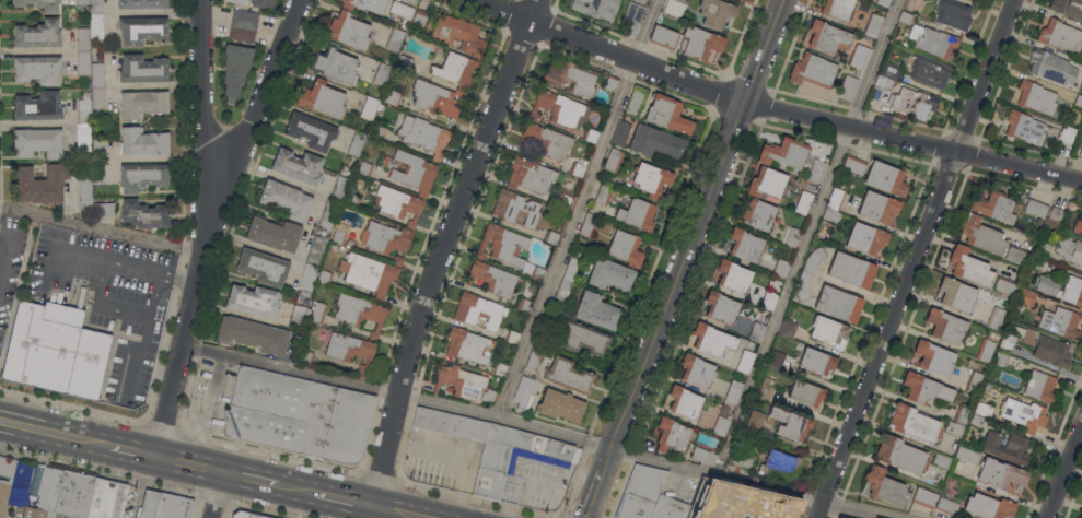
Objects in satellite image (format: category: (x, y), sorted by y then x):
building: (83, 1)
building: (237, 1)
building: (640, 1)
building: (883, 2)
building: (263, 3)
building: (39, 4)
building: (142, 4)
building: (367, 4)
building: (674, 7)
building: (96, 8)
building: (596, 8)
building: (1068, 8)
building: (402, 9)
building: (838, 9)
building: (715, 12)
building: (953, 14)
building: (419, 16)
building: (632, 17)
building: (906, 17)
building: (244, 20)
building: (96, 26)
building: (873, 26)
building: (142, 30)
building: (347, 31)
building: (38, 34)
building: (242, 34)
building: (458, 34)
building: (1060, 35)
building: (664, 36)
building: (828, 37)
building: (83, 39)
building: (394, 39)
building: (934, 40)
building: (700, 43)
building: (859, 56)
building: (404, 62)
building: (84, 63)
building: (334, 64)
building: (1051, 67)
building: (37, 69)
building: (143, 69)
building: (235, 70)
building: (456, 70)
building: (889, 70)
building: (812, 71)
building: (930, 72)
building: (97, 74)
building: (382, 74)
building: (572, 76)
building: (884, 82)
building: (612, 83)
building: (848, 86)
road: (201, 94)
building: (1036, 96)
building: (392, 97)
building: (97, 98)
building: (323, 98)
building: (437, 98)
building: (1079, 101)
building: (142, 103)
building: (635, 103)
building: (914, 103)
building: (38, 106)
building: (84, 108)
building: (369, 108)
building: (560, 109)
road: (772, 110)
building: (667, 115)
building: (1026, 127)
building: (380, 128)
building: (311, 131)
building: (1068, 132)
building: (620, 133)
building: (591, 134)
building: (428, 137)
building: (83, 139)
building: (143, 141)
building: (546, 141)
building: (1079, 141)
building: (38, 142)
building: (655, 142)
building: (357, 143)
building: (98, 150)
building: (784, 153)
building: (613, 161)
building: (854, 165)
building: (298, 166)
building: (364, 168)
building: (577, 169)
building: (412, 170)
building: (815, 170)
building: (98, 172)
building: (530, 175)
building: (142, 176)
building: (651, 178)
building: (886, 178)
building: (40, 184)
building: (768, 184)
building: (628, 186)
building: (338, 188)
building: (85, 191)
building: (603, 193)
building: (353, 199)
building: (565, 199)
building: (836, 199)
building: (286, 200)
building: (804, 202)
building: (398, 203)
building: (879, 207)
building: (993, 207)
building: (1036, 207)
building: (515, 208)
building: (103, 209)
road: (575, 209)
building: (756, 213)
building: (144, 214)
building: (329, 214)
building: (637, 214)
building: (831, 216)
building: (1054, 217)
road: (205, 221)
building: (1038, 222)
building: (587, 225)
building: (1078, 226)
road: (100, 228)
building: (274, 233)
building: (339, 234)
building: (981, 235)
building: (385, 237)
building: (551, 237)
building: (792, 237)
road: (805, 237)
building: (865, 238)
road: (3, 242)
building: (745, 244)
building: (626, 248)
building: (1043, 248)
building: (316, 249)
road: (443, 249)
building: (508, 249)
building: (1070, 249)
building: (1017, 255)
road: (914, 258)
road: (686, 259)
building: (397, 260)
building: (1037, 262)
road: (140, 267)
building: (264, 267)
building: (969, 267)
building: (571, 268)
building: (781, 269)
building: (851, 270)
building: (808, 272)
building: (368, 273)
building: (609, 274)
road: (176, 275)
building: (733, 275)
building: (307, 276)
building: (325, 276)
building: (491, 278)
building: (773, 284)
building: (1005, 286)
building: (563, 290)
building: (1064, 293)
building: (956, 294)
road: (153, 295)
building: (163, 296)
building: (1026, 296)
building: (768, 299)
building: (253, 301)
road: (95, 302)
building: (838, 304)
building: (524, 305)
building: (721, 307)
building: (478, 310)
building: (596, 310)
building: (307, 313)
building: (318, 313)
building: (359, 313)
building: (296, 317)
building: (996, 318)
building: (1060, 322)
building: (946, 326)
building: (788, 328)
building: (545, 330)
building: (829, 331)
building: (756, 332)
building: (254, 334)
building: (510, 335)
building: (583, 338)
building: (711, 339)
building: (1007, 342)
building: (469, 345)
building: (1048, 348)
building: (55, 351)
building: (350, 351)
building: (986, 351)
road: (138, 354)
building: (535, 355)
building: (305, 357)
building: (1001, 357)
building: (934, 358)
building: (777, 360)
building: (745, 361)
building: (817, 362)
road: (153, 368)
building: (499, 368)
building: (697, 370)
building: (569, 376)
building: (974, 382)
building: (464, 384)
building: (1040, 386)
building: (766, 388)
building: (923, 388)
building: (733, 392)
building: (524, 393)
building: (805, 393)
building: (684, 402)
building: (561, 405)
building: (984, 409)
building: (1023, 413)
building: (961, 414)
building: (299, 416)
building: (976, 420)
building: (754, 421)
building: (914, 423)
building: (451, 424)
building: (791, 424)
building: (720, 426)
road: (538, 429)
building: (954, 429)
road: (56, 434)
building: (672, 435)
building: (1007, 447)
road: (132, 451)
building: (901, 455)
building: (967, 455)
building: (702, 457)
building: (742, 459)
building: (941, 461)
building: (780, 463)
road: (186, 464)
building: (492, 469)
road: (1063, 471)
building: (1000, 473)
road: (248, 478)
building: (21, 480)
building: (885, 487)
road: (296, 488)
building: (60, 494)
road: (214, 495)
building: (3, 497)
building: (649, 497)
building: (924, 497)
building: (107, 499)
road: (345, 499)
building: (708, 503)
building: (150, 504)
building: (735, 506)
building: (947, 506)
building: (989, 506)
building: (174, 507)
road: (397, 511)
building: (246, 515)
road: (562, 516)
building: (1081, 516)
building: (840, 517)

